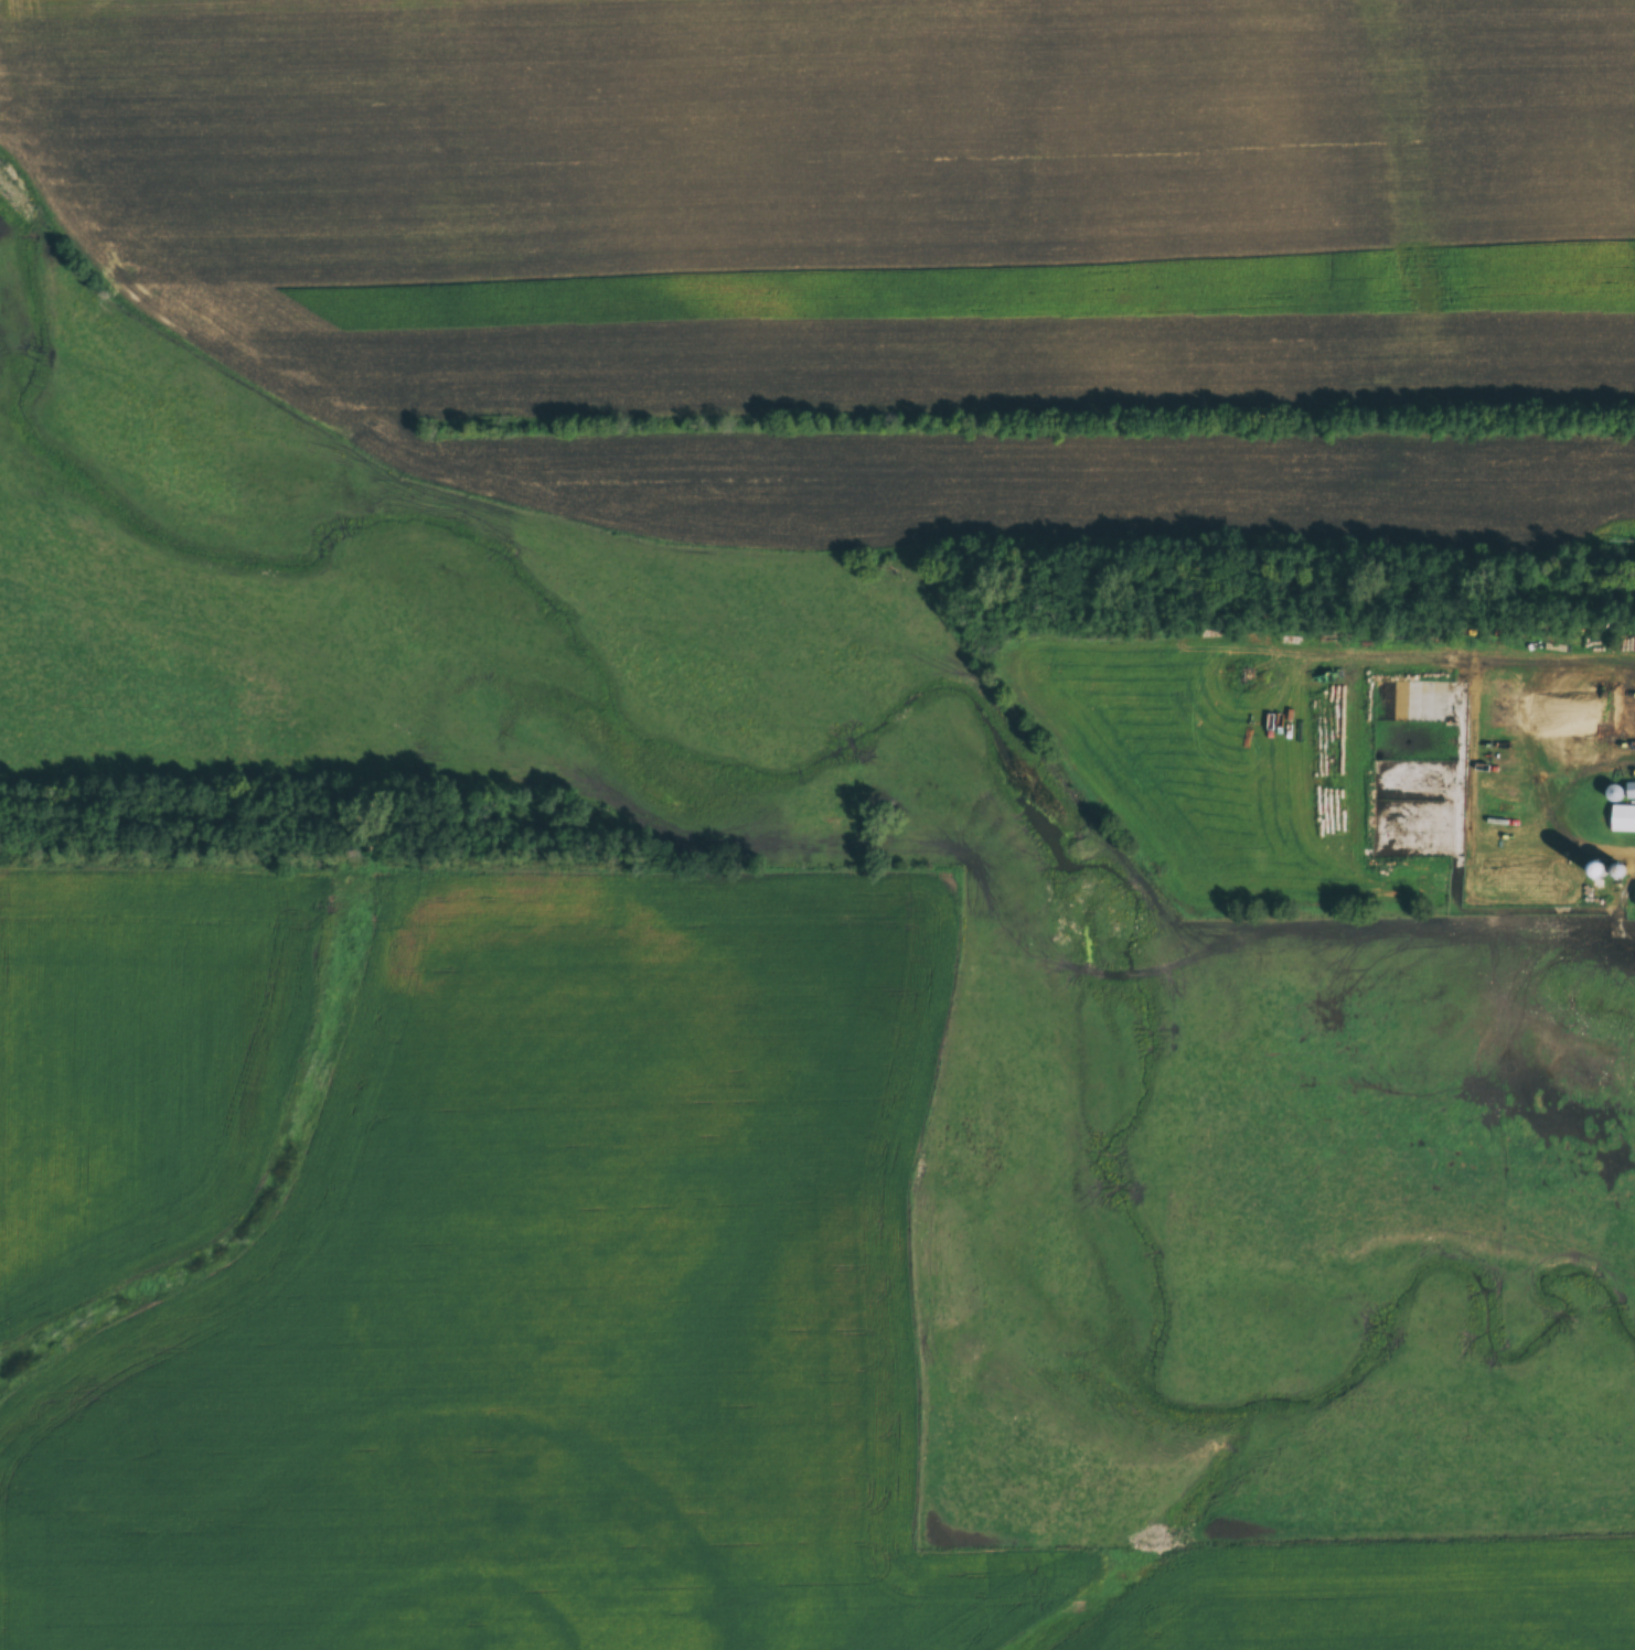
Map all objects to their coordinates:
building: (1622, 821)
building: (1634, 896)

